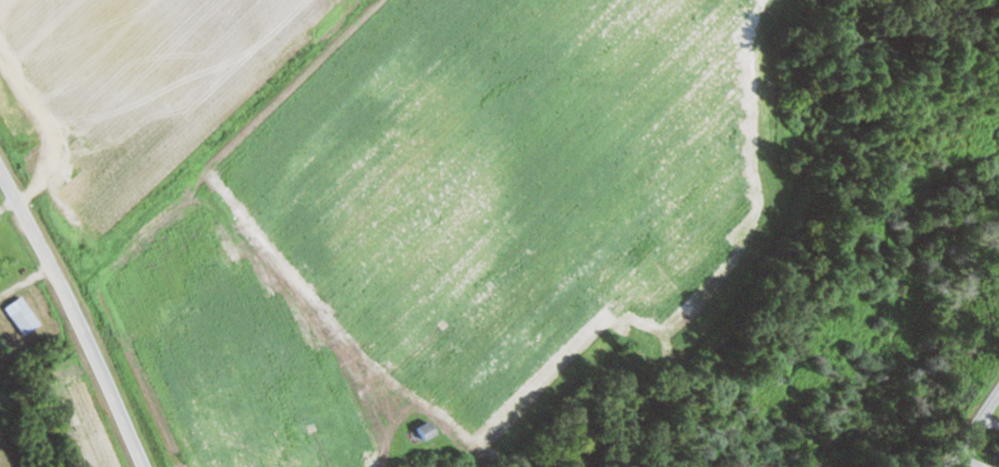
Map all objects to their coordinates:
building: (24, 315)
road: (76, 316)
road: (973, 429)
building: (429, 430)

